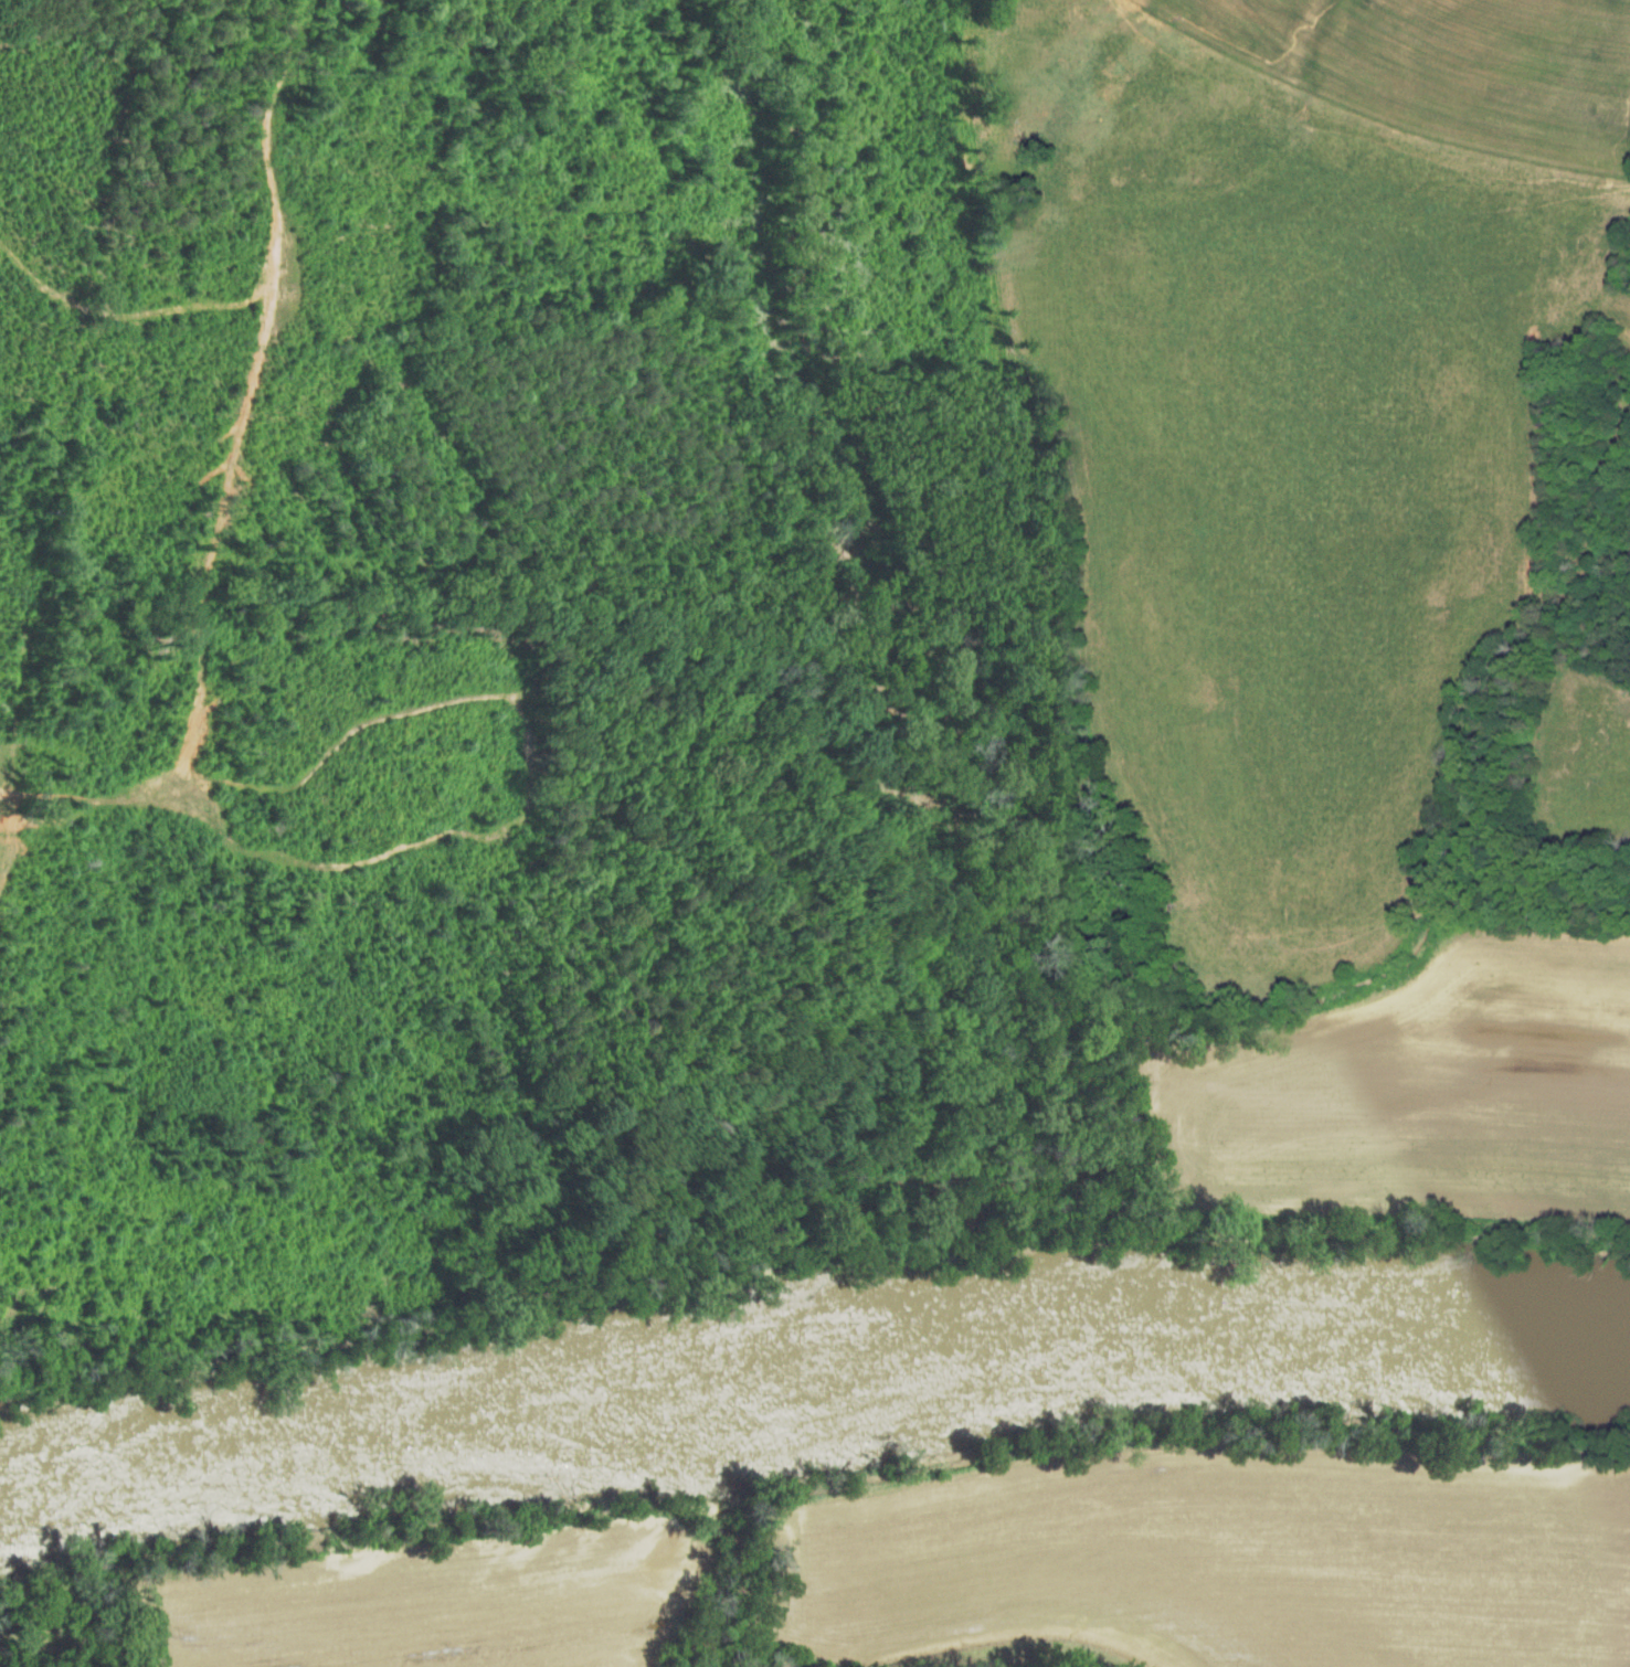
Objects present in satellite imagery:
river: (943, 1346)
river: (131, 1465)

